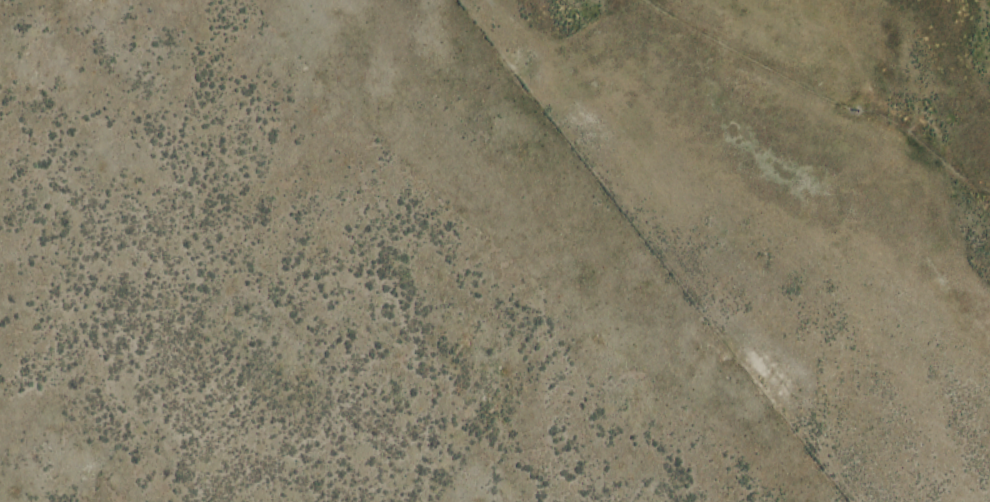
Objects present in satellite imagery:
crop: (495, 251)

